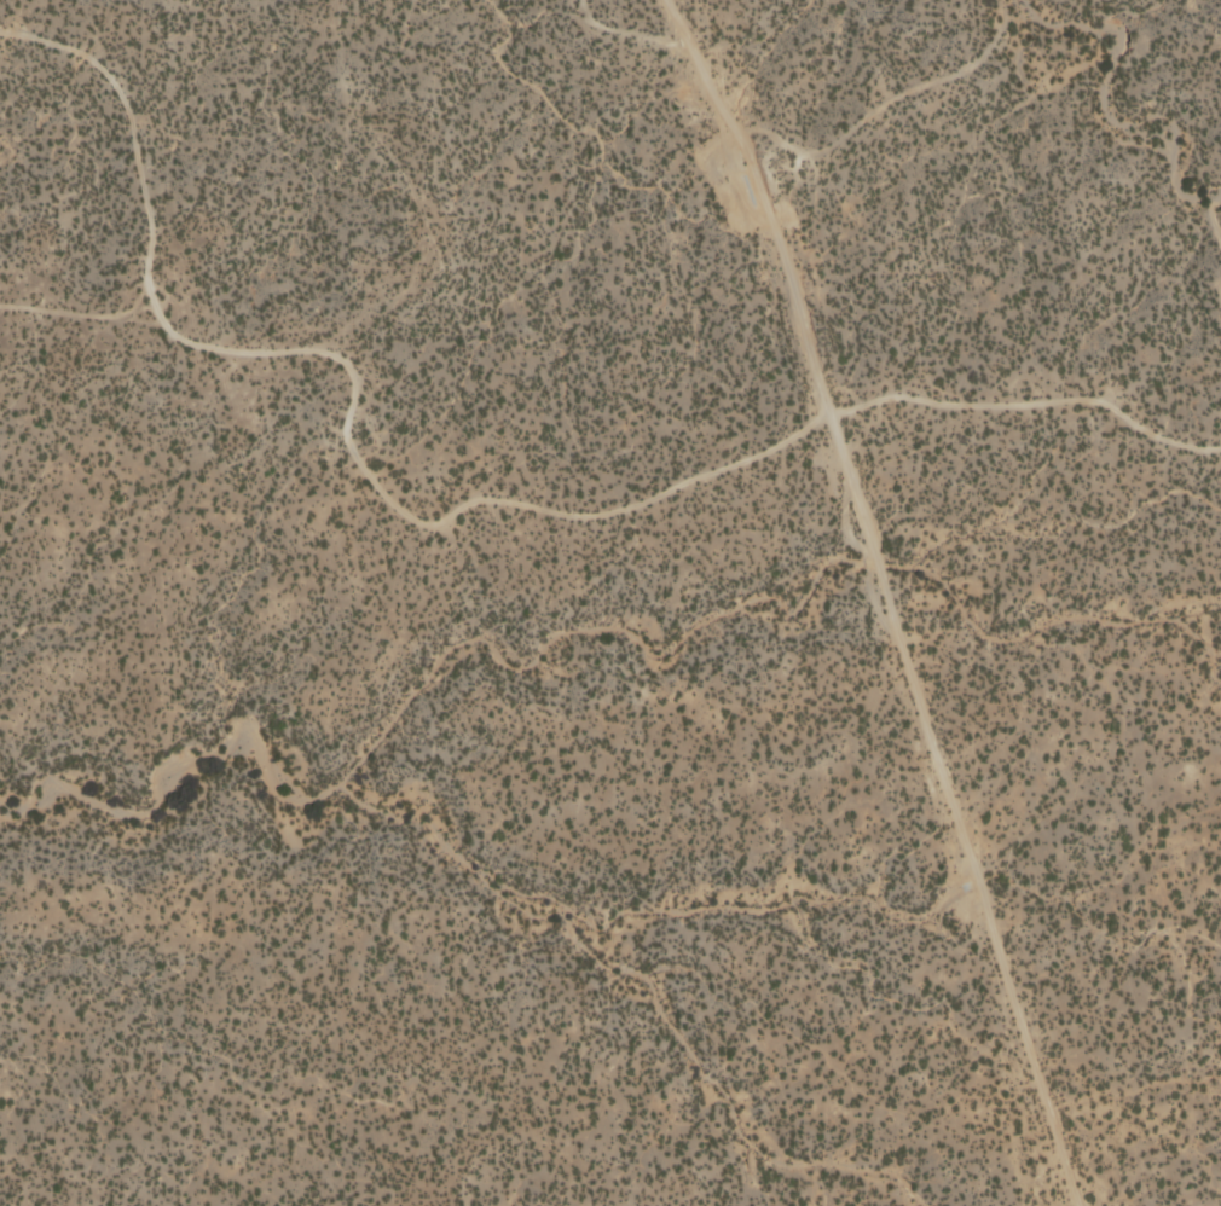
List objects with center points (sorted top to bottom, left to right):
road: (1208, 214)
road: (456, 511)
road: (886, 597)

